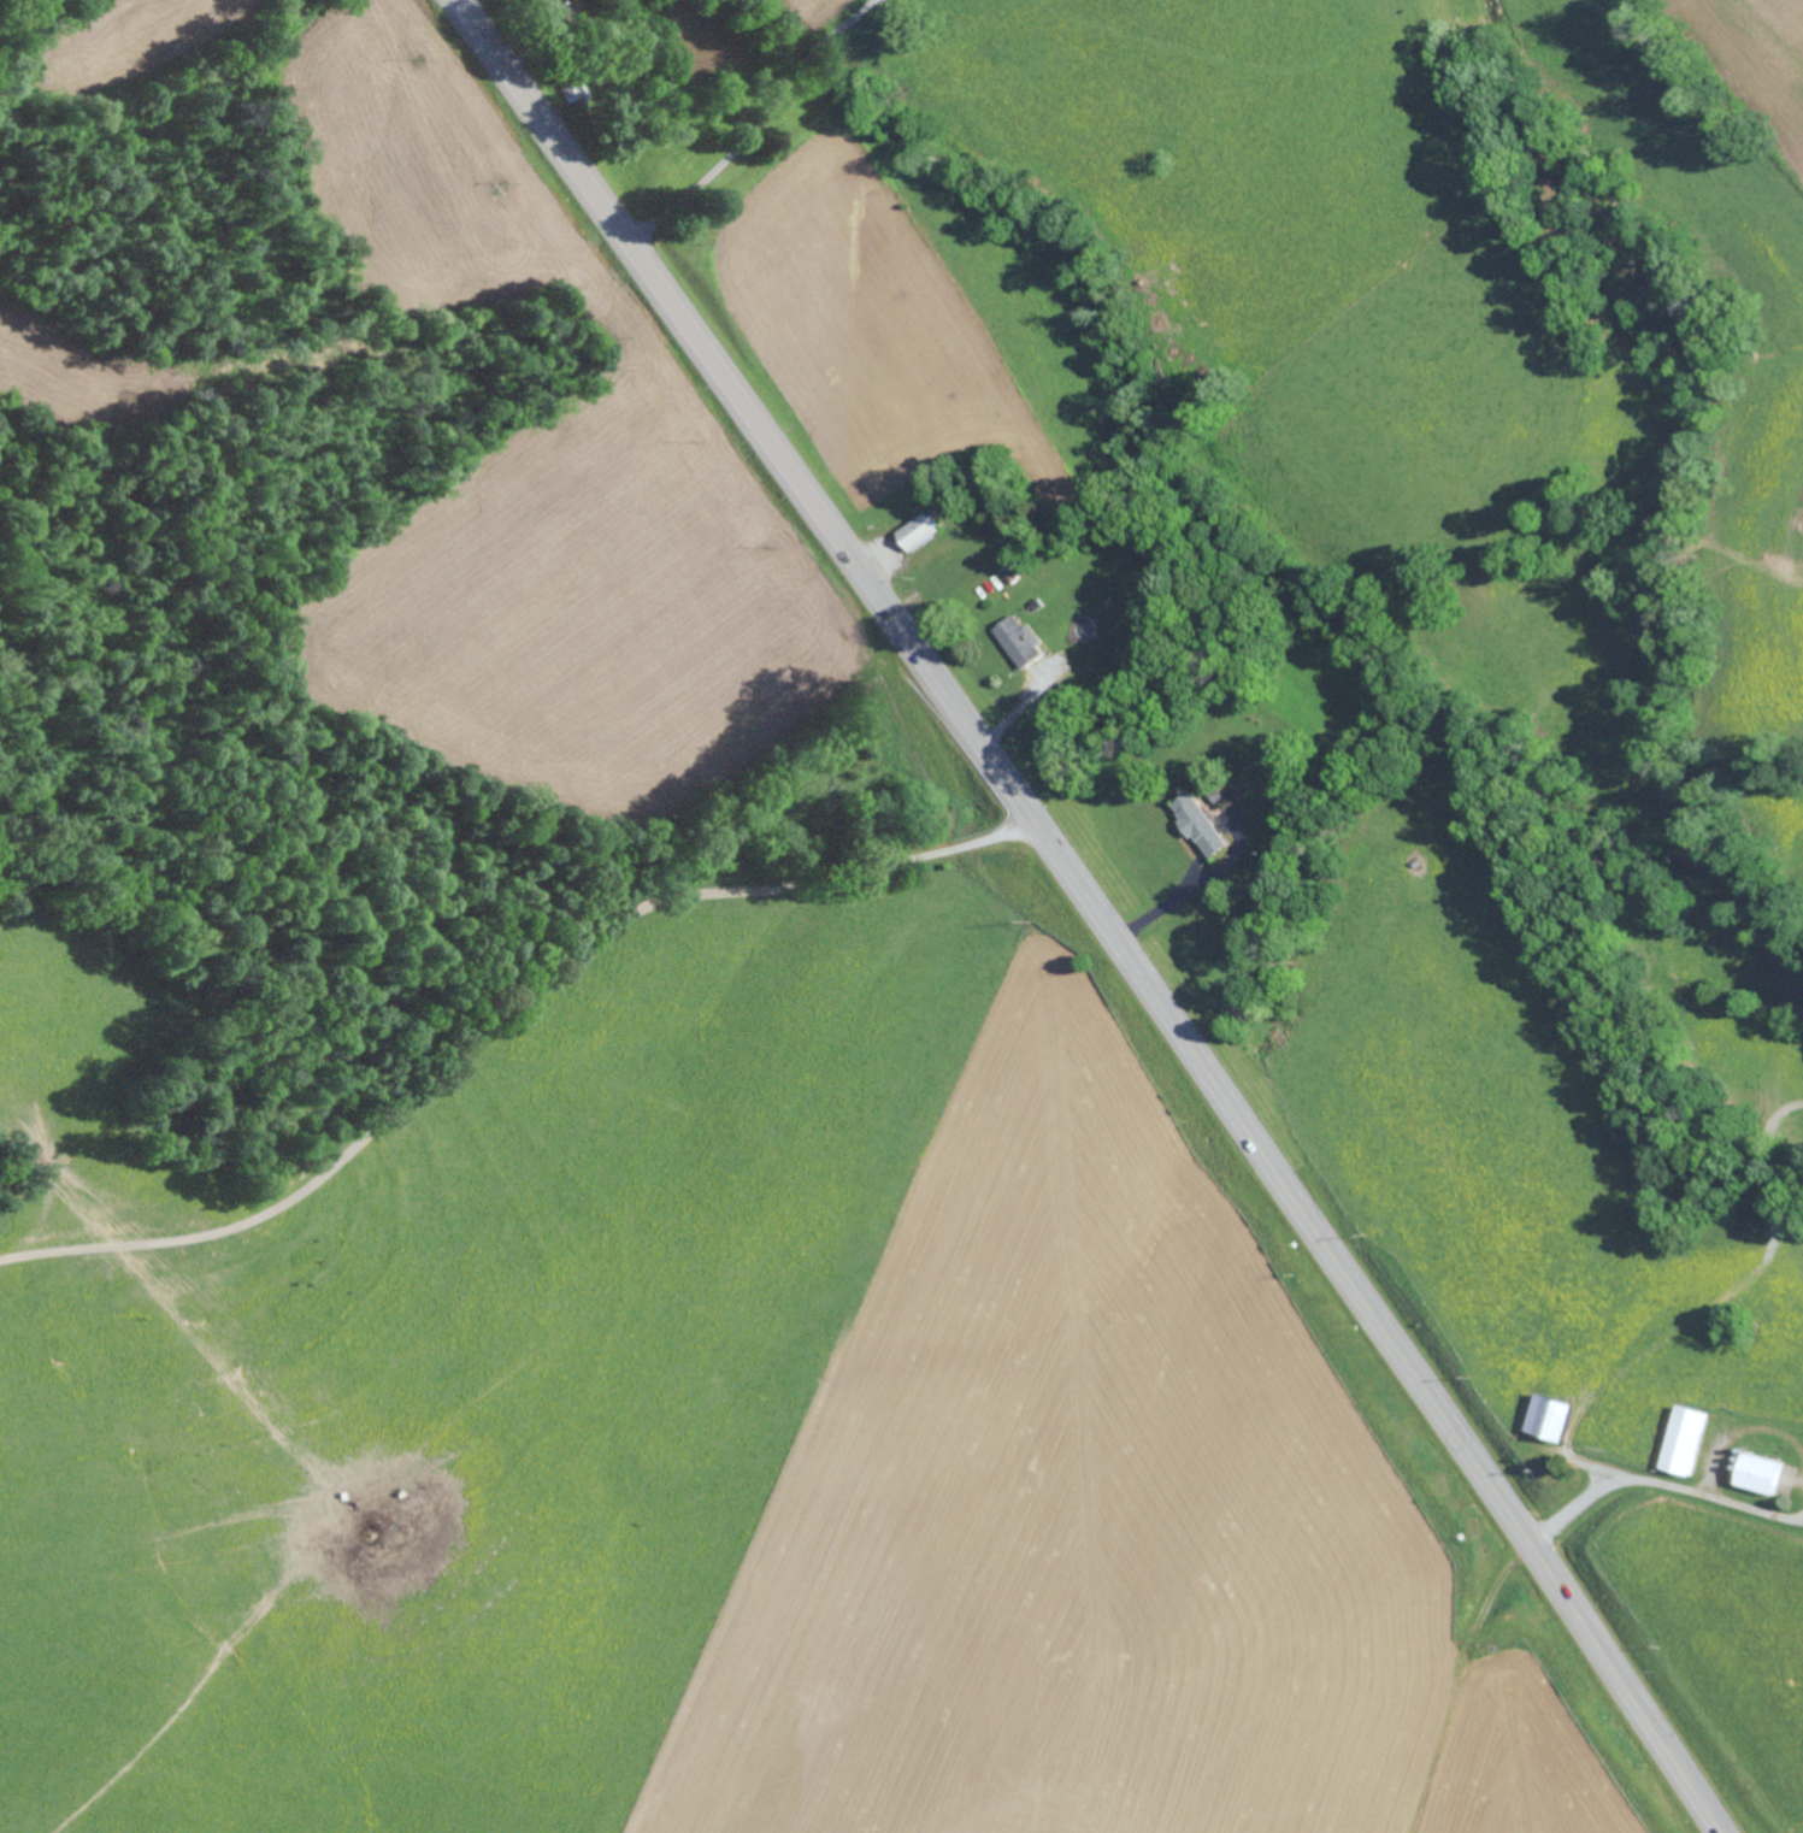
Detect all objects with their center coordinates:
road: (24, 16)
building: (915, 531)
building: (1019, 640)
building: (1197, 824)
road: (1095, 909)
road: (508, 1006)
building: (1544, 1418)
building: (1679, 1440)
building: (1754, 1473)
road: (1649, 1501)

